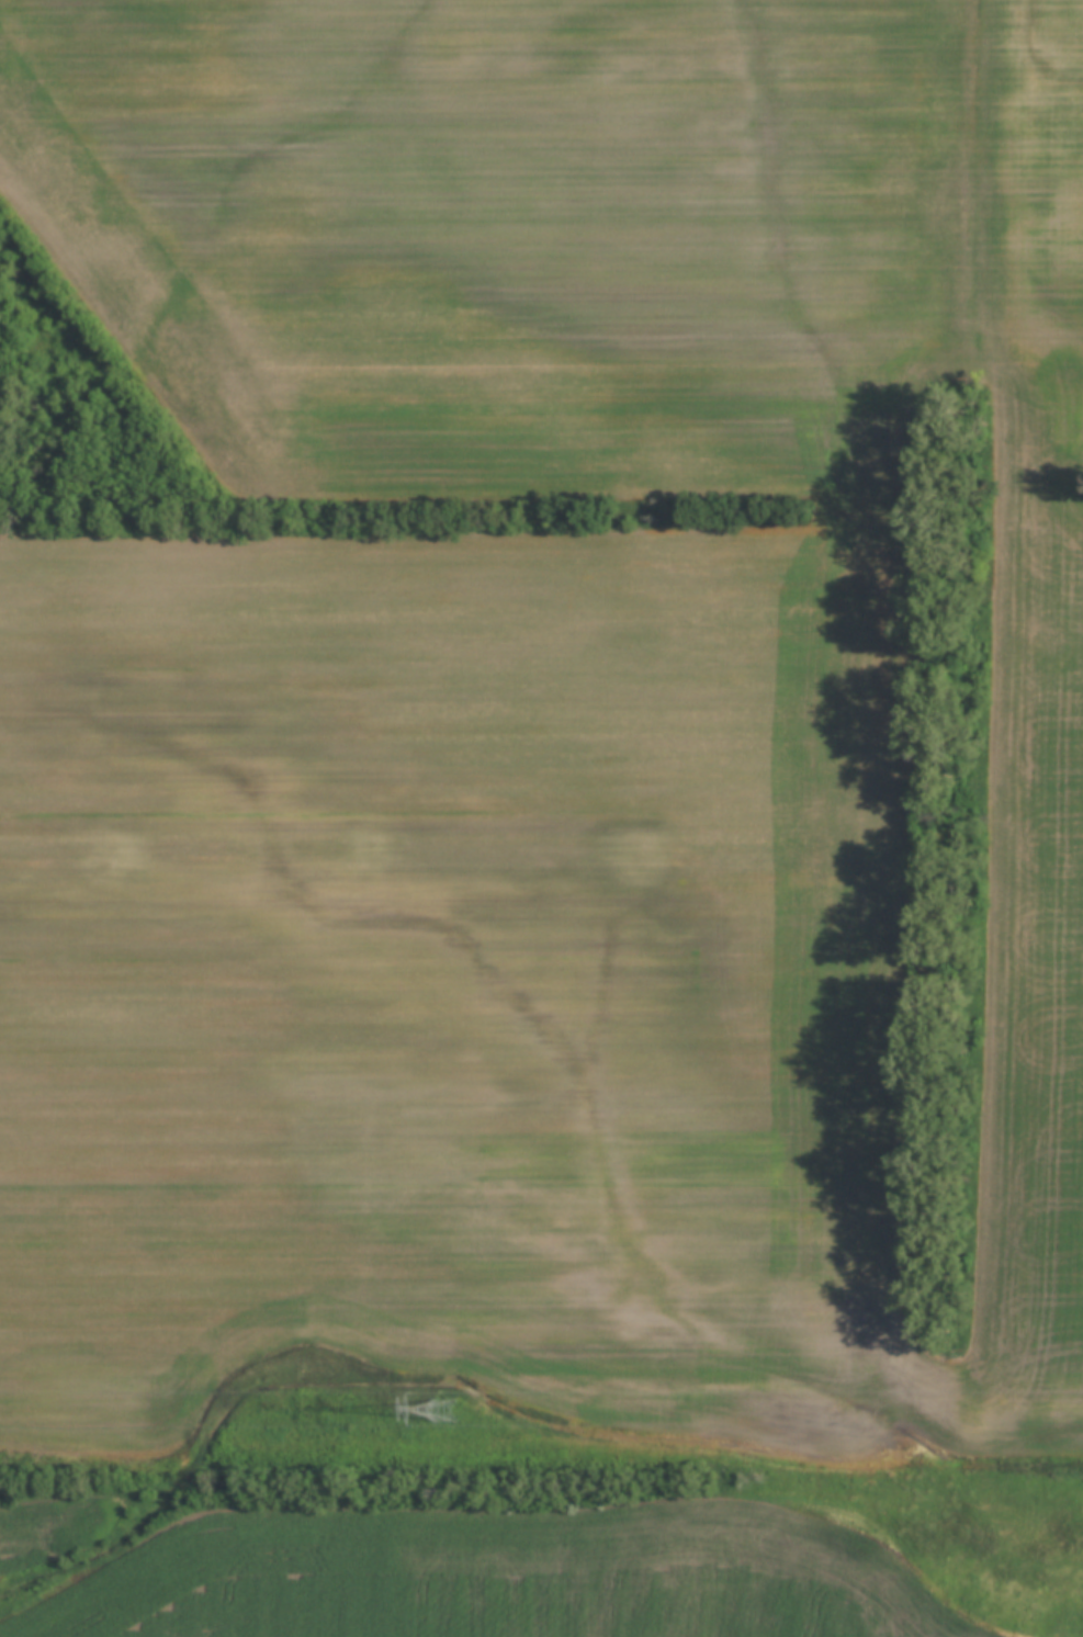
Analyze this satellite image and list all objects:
power tower: (451, 1418)

